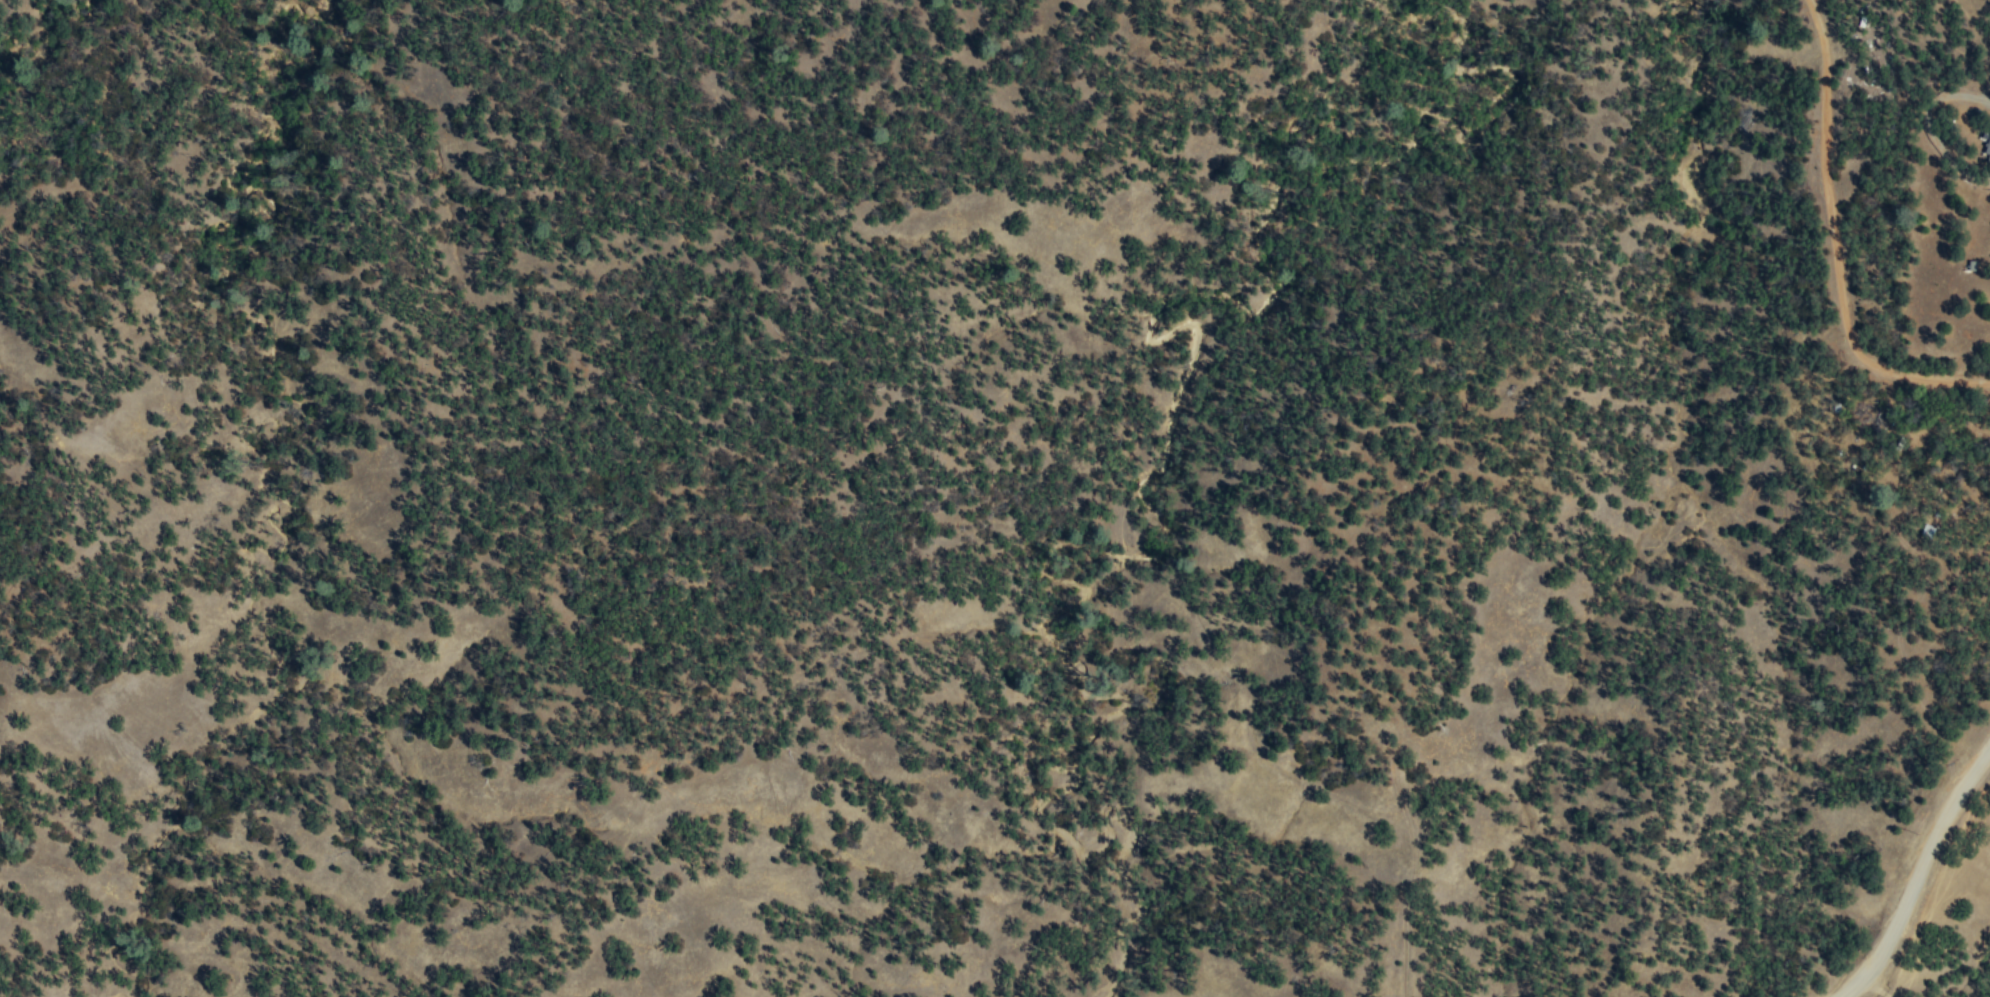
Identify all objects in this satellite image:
road: (1931, 126)
building: (1987, 147)
road: (1840, 242)
road: (1419, 852)
road: (1921, 880)
road: (1881, 989)

